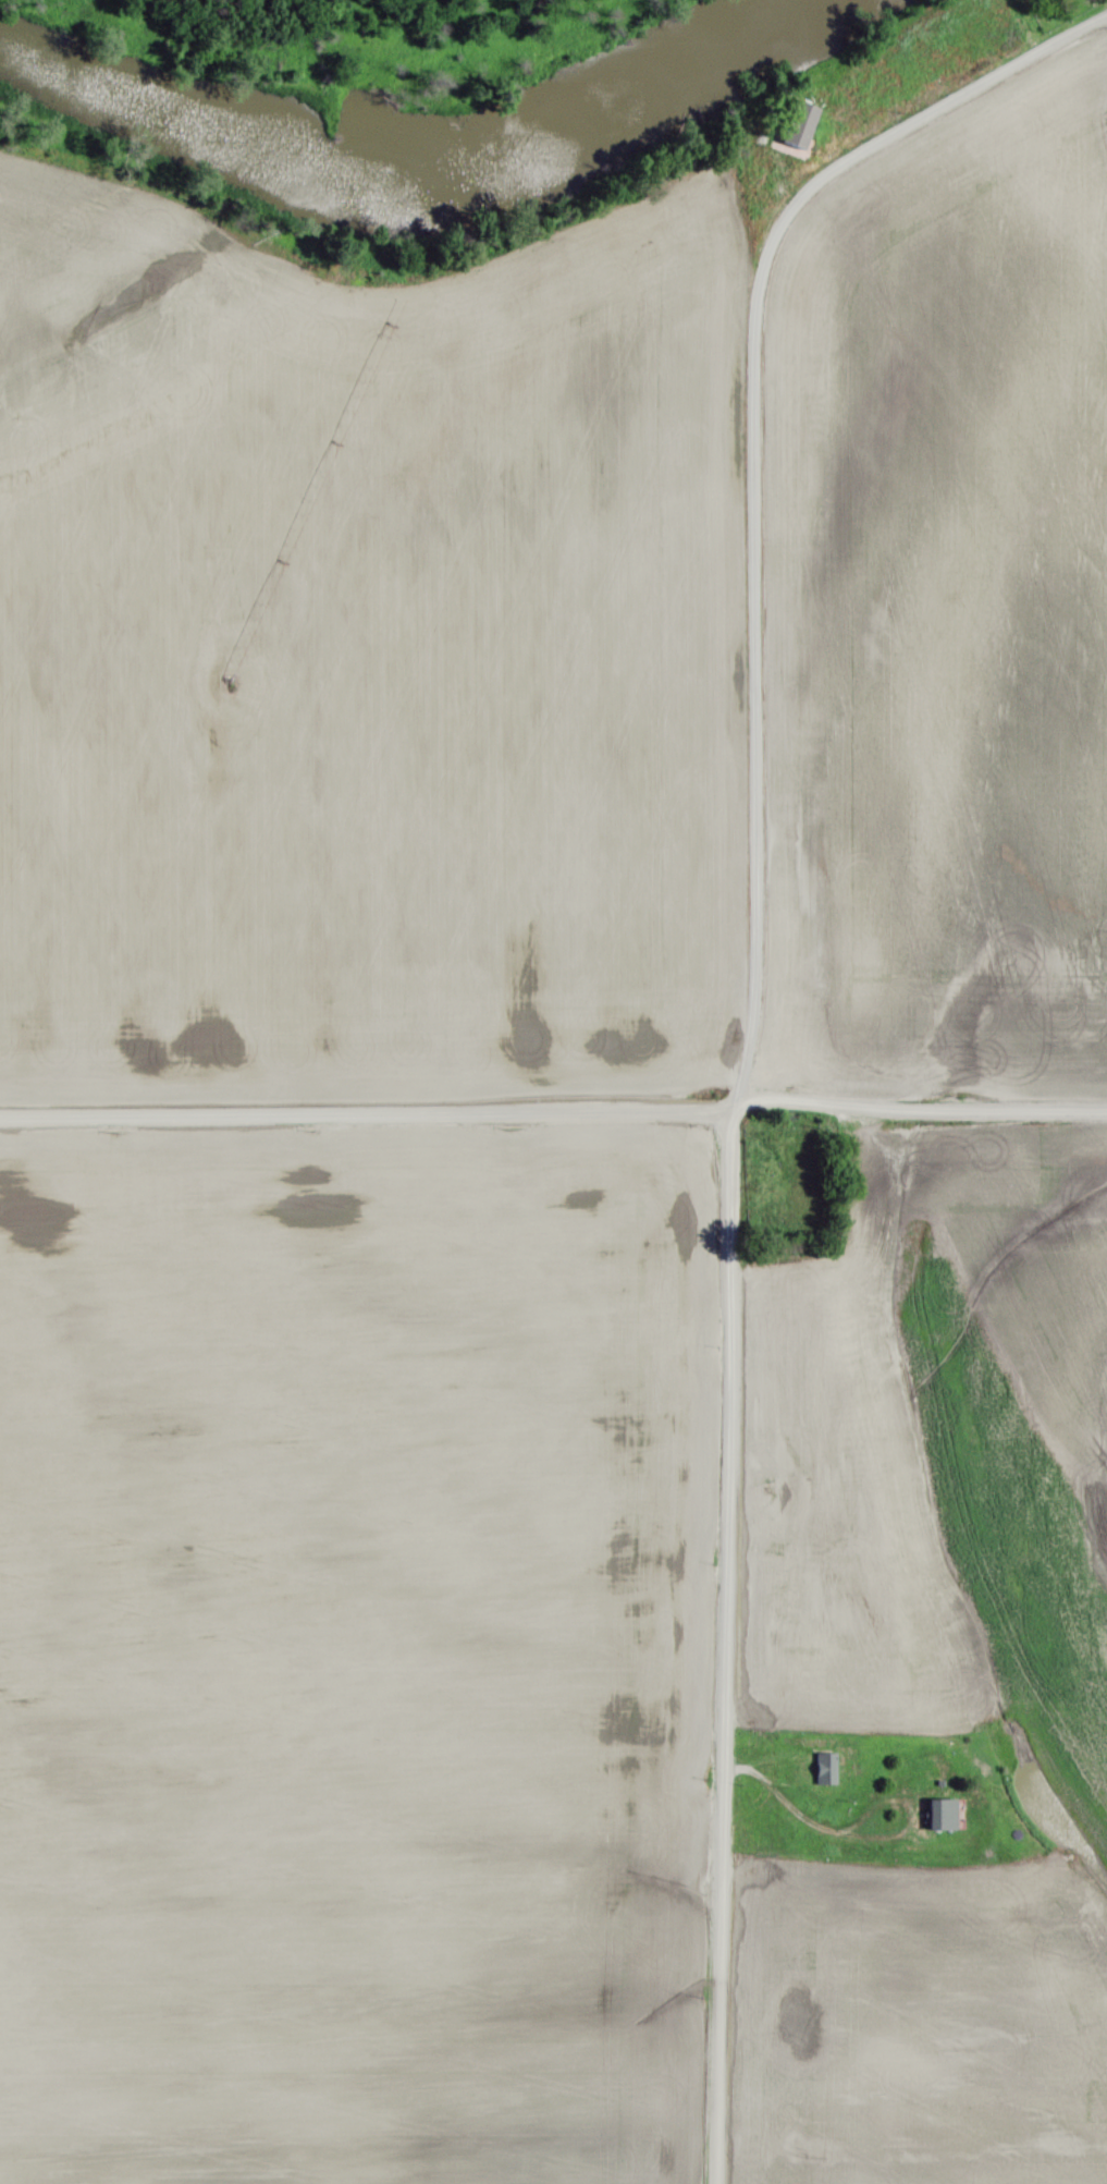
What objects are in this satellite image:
park: (358, 37)
road: (763, 253)
road: (553, 1112)
road: (731, 1430)
building: (825, 1764)
road: (887, 1797)
road: (785, 1799)
building: (943, 1810)

